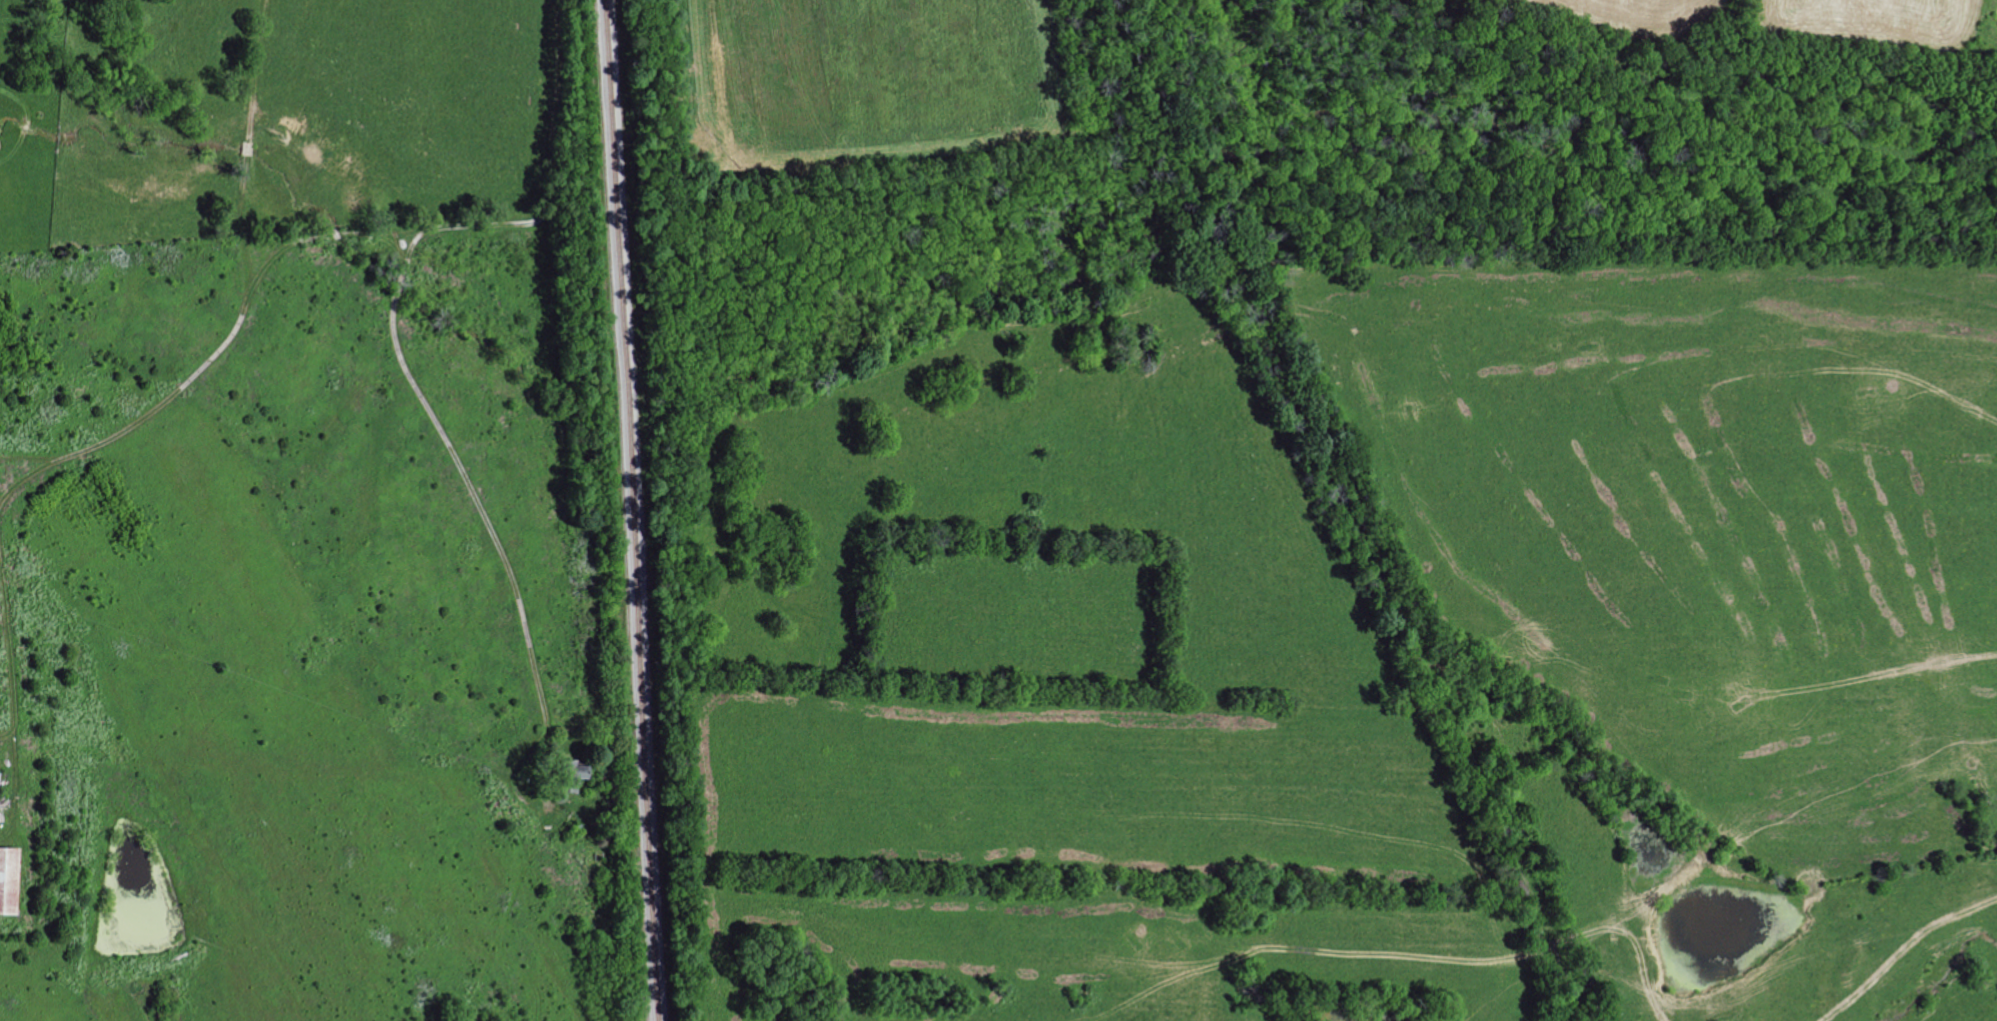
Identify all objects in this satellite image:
road: (254, 75)
road: (217, 352)
road: (408, 373)
railway: (633, 510)
road: (11, 702)
building: (6, 879)

